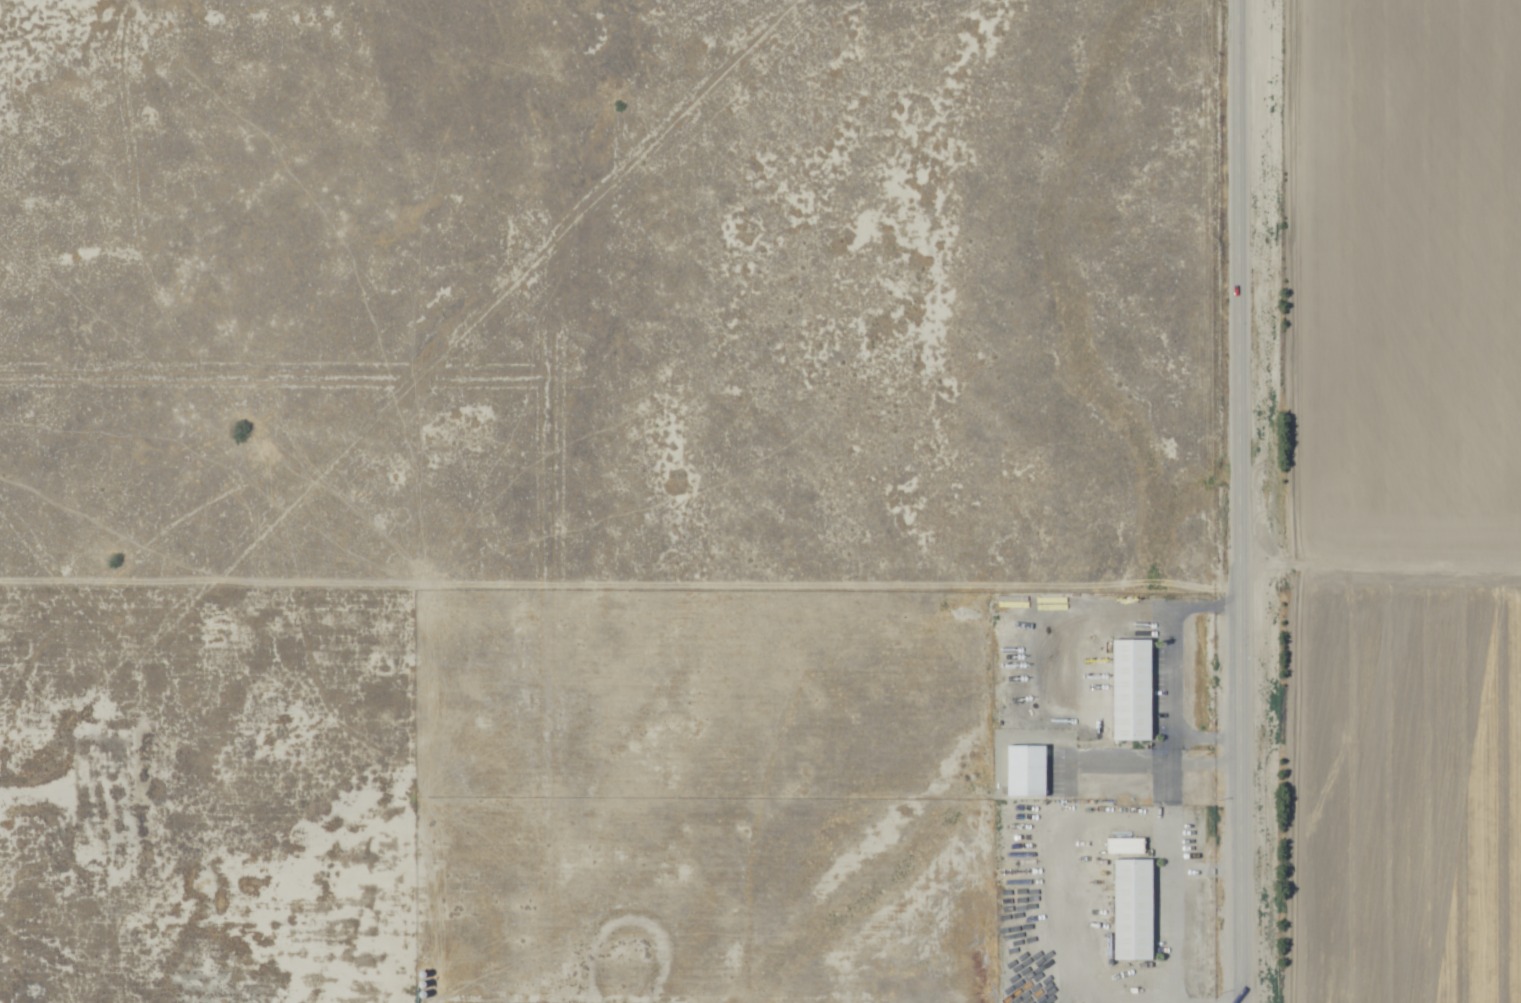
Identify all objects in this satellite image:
crop: (1368, 499)
road: (1237, 501)
road: (1172, 674)
building: (1132, 690)
road: (1093, 824)
building: (1133, 909)
road: (629, 925)

